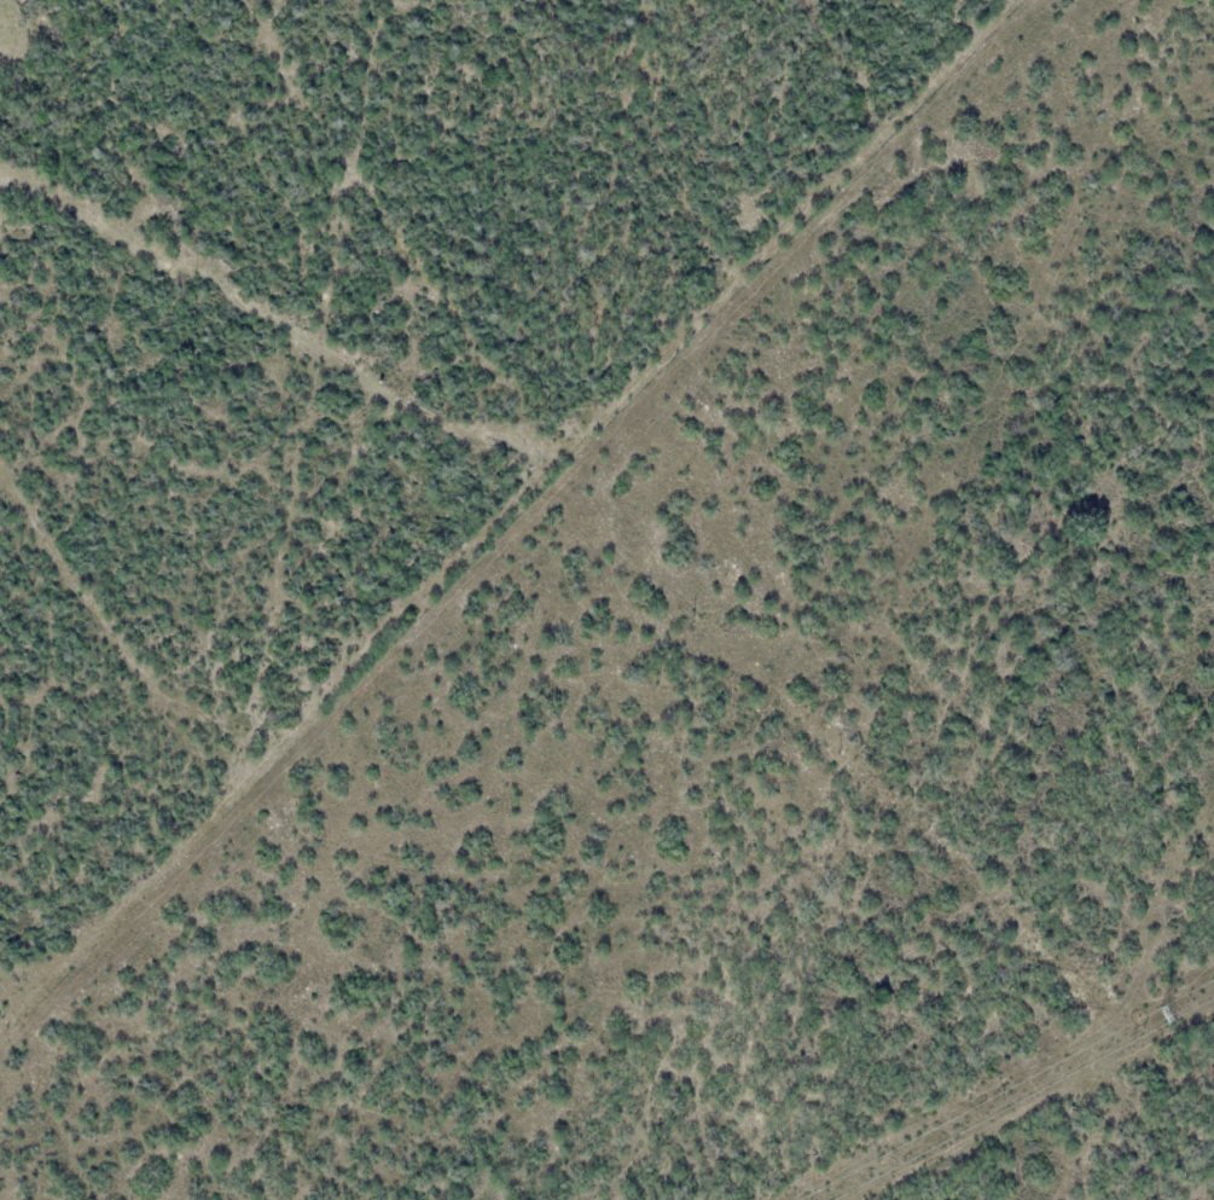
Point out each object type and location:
power tower: (1161, 1014)

